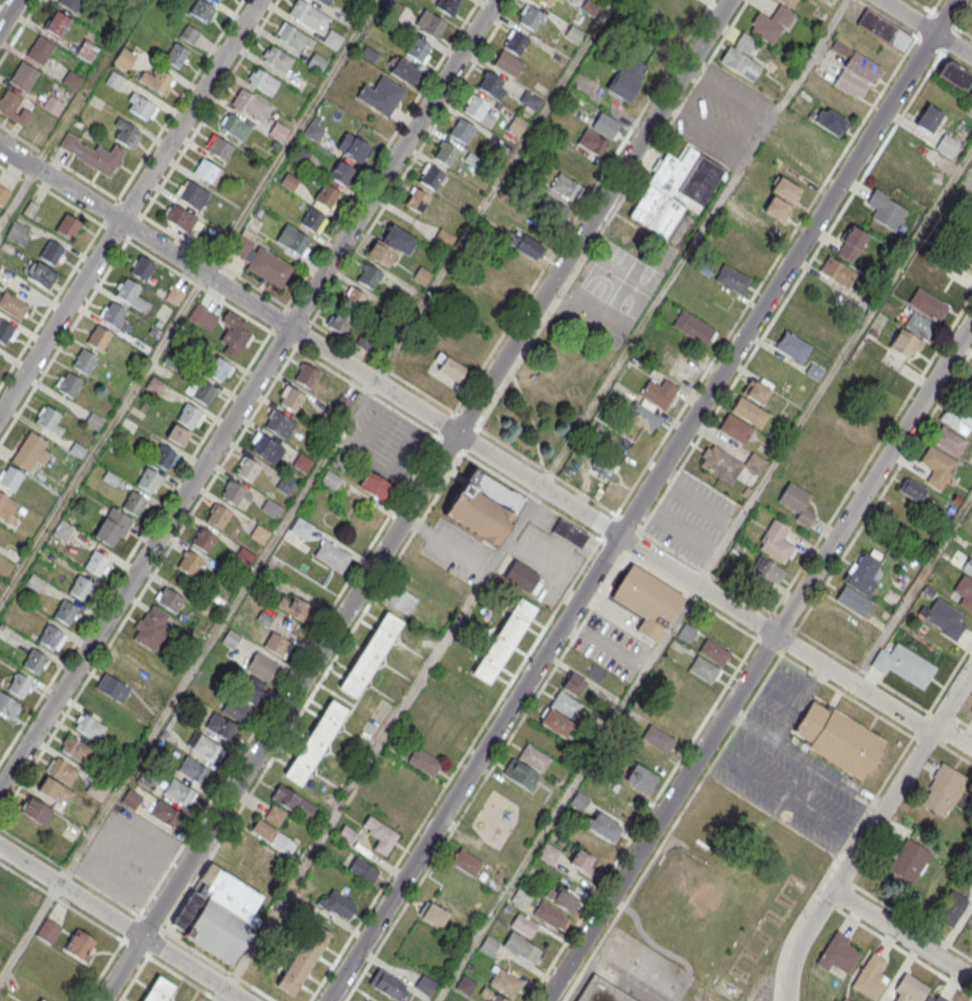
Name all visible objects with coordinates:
building: (220, 0)
building: (224, 0)
building: (561, 0)
building: (324, 2)
building: (547, 2)
building: (788, 2)
building: (71, 5)
building: (447, 5)
road: (936, 6)
road: (7, 12)
building: (202, 12)
building: (308, 16)
road: (964, 16)
building: (532, 20)
building: (55, 23)
building: (771, 24)
building: (430, 25)
road: (926, 29)
road: (19, 31)
building: (884, 32)
building: (189, 35)
building: (293, 39)
building: (333, 41)
building: (516, 44)
building: (87, 50)
building: (418, 51)
building: (40, 52)
building: (175, 56)
building: (741, 56)
building: (124, 60)
building: (278, 61)
building: (317, 64)
building: (857, 64)
building: (508, 65)
building: (403, 73)
building: (955, 74)
building: (24, 78)
building: (627, 78)
building: (71, 80)
building: (113, 81)
building: (155, 82)
building: (263, 84)
building: (490, 85)
building: (850, 85)
building: (970, 92)
building: (381, 97)
road: (179, 100)
building: (531, 100)
building: (52, 107)
building: (140, 107)
road: (210, 108)
building: (251, 108)
building: (475, 108)
building: (13, 109)
parking lot: (723, 115)
building: (829, 120)
building: (928, 120)
building: (606, 125)
building: (235, 128)
building: (315, 128)
building: (461, 132)
building: (277, 133)
building: (126, 135)
road: (291, 137)
building: (592, 143)
building: (947, 146)
building: (353, 147)
building: (218, 149)
road: (382, 153)
building: (300, 154)
building: (446, 155)
building: (810, 155)
building: (93, 156)
road: (17, 157)
building: (205, 172)
building: (341, 173)
building: (431, 178)
building: (289, 181)
building: (565, 187)
building: (785, 189)
road: (494, 190)
building: (674, 191)
building: (3, 196)
building: (193, 196)
building: (327, 197)
road: (18, 198)
road: (64, 202)
building: (417, 202)
road: (129, 206)
road: (583, 206)
building: (741, 207)
building: (549, 208)
building: (776, 208)
building: (30, 210)
building: (885, 211)
building: (182, 219)
building: (312, 220)
building: (67, 228)
building: (18, 234)
building: (443, 239)
building: (965, 239)
building: (292, 241)
building: (397, 242)
road: (692, 242)
building: (523, 243)
building: (850, 243)
building: (51, 254)
building: (381, 255)
road: (214, 261)
building: (261, 264)
building: (142, 269)
building: (837, 272)
building: (41, 275)
building: (421, 276)
building: (921, 277)
building: (369, 278)
building: (732, 278)
building: (130, 296)
building: (174, 296)
building: (354, 299)
building: (928, 305)
road: (50, 306)
building: (12, 307)
road: (286, 307)
building: (114, 317)
building: (203, 319)
building: (339, 322)
building: (693, 327)
building: (5, 333)
building: (234, 336)
building: (911, 336)
road: (334, 337)
building: (98, 339)
building: (363, 341)
building: (793, 346)
park: (575, 351)
building: (0, 354)
building: (84, 363)
building: (672, 365)
building: (449, 368)
road: (835, 368)
building: (218, 369)
building: (814, 371)
road: (243, 374)
building: (306, 377)
building: (154, 385)
building: (69, 386)
building: (969, 386)
building: (756, 389)
building: (658, 392)
building: (203, 394)
road: (247, 394)
building: (292, 401)
building: (337, 410)
building: (749, 412)
building: (643, 416)
building: (188, 417)
building: (956, 420)
building: (50, 422)
building: (94, 422)
building: (281, 426)
road: (445, 426)
building: (735, 428)
building: (632, 433)
building: (178, 437)
road: (103, 439)
building: (950, 441)
parking lot: (386, 443)
building: (77, 451)
building: (267, 451)
building: (31, 454)
building: (163, 456)
road: (501, 461)
building: (340, 462)
building: (731, 463)
building: (302, 464)
building: (937, 466)
building: (604, 467)
building: (248, 471)
building: (10, 480)
building: (330, 480)
building: (148, 482)
building: (285, 487)
building: (376, 489)
building: (912, 489)
building: (233, 494)
road: (415, 500)
road: (641, 500)
building: (797, 503)
building: (134, 505)
building: (6, 508)
building: (270, 508)
building: (479, 508)
parking lot: (691, 517)
building: (219, 518)
building: (112, 529)
building: (301, 530)
building: (62, 532)
building: (569, 533)
building: (259, 535)
road: (650, 537)
building: (204, 541)
building: (775, 542)
parking lot: (456, 551)
building: (332, 555)
building: (244, 558)
road: (631, 561)
building: (962, 562)
building: (96, 565)
building: (189, 565)
building: (767, 570)
building: (865, 573)
building: (520, 576)
building: (34, 582)
road: (147, 583)
building: (80, 589)
road: (912, 590)
building: (963, 591)
building: (852, 600)
building: (170, 601)
building: (399, 601)
building: (647, 603)
building: (295, 607)
building: (65, 614)
building: (942, 618)
road: (671, 628)
building: (152, 630)
building: (687, 633)
building: (49, 638)
building: (230, 640)
building: (503, 640)
building: (604, 644)
road: (606, 645)
building: (277, 646)
building: (713, 651)
building: (370, 658)
road: (758, 661)
building: (34, 663)
building: (903, 664)
building: (262, 666)
building: (703, 669)
road: (949, 680)
building: (573, 684)
building: (19, 687)
building: (112, 690)
building: (240, 703)
building: (565, 703)
building: (682, 704)
building: (8, 709)
parking lot: (375, 720)
road: (958, 720)
building: (555, 722)
building: (219, 727)
building: (89, 729)
building: (451, 729)
building: (838, 738)
building: (658, 739)
building: (315, 746)
building: (206, 749)
building: (75, 750)
building: (424, 761)
parking lot: (788, 764)
building: (526, 766)
building: (191, 770)
building: (61, 772)
building: (641, 778)
building: (54, 790)
building: (97, 790)
building: (945, 790)
building: (177, 792)
building: (130, 800)
building: (293, 803)
building: (35, 810)
building: (163, 814)
building: (275, 816)
building: (603, 826)
road: (672, 828)
road: (870, 831)
building: (346, 834)
building: (380, 834)
building: (273, 838)
building: (588, 852)
building: (548, 853)
parking lot: (127, 856)
building: (909, 861)
building: (466, 862)
building: (363, 869)
building: (562, 897)
building: (521, 898)
building: (340, 903)
building: (952, 909)
building: (218, 914)
building: (434, 915)
building: (551, 915)
road: (121, 923)
building: (523, 925)
road: (29, 931)
building: (47, 931)
road: (902, 934)
building: (79, 945)
building: (489, 945)
building: (523, 948)
building: (838, 953)
building: (302, 957)
building: (871, 976)
building: (505, 982)
building: (388, 984)
building: (425, 985)
building: (465, 985)
building: (158, 990)
building: (909, 990)
building: (602, 991)
building: (492, 995)
road: (223, 996)
building: (935, 998)
building: (41, 999)
building: (363, 1000)

